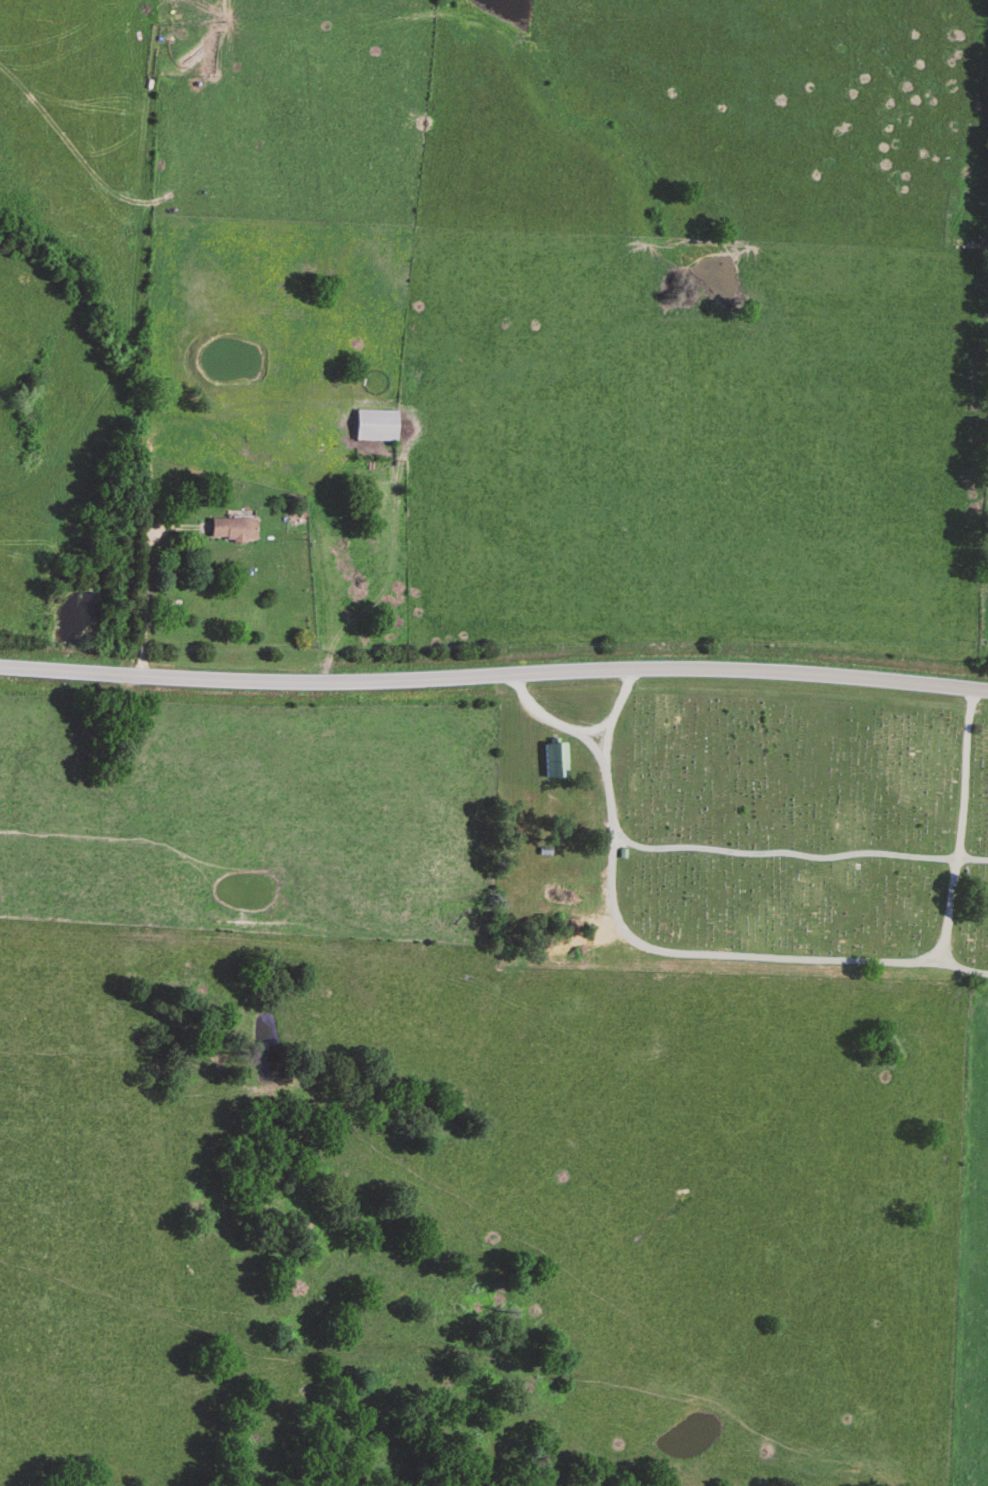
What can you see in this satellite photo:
building: (374, 427)
building: (231, 530)
road: (141, 605)
road: (494, 676)
building: (553, 762)
park: (794, 837)
road: (758, 955)
road: (961, 969)

